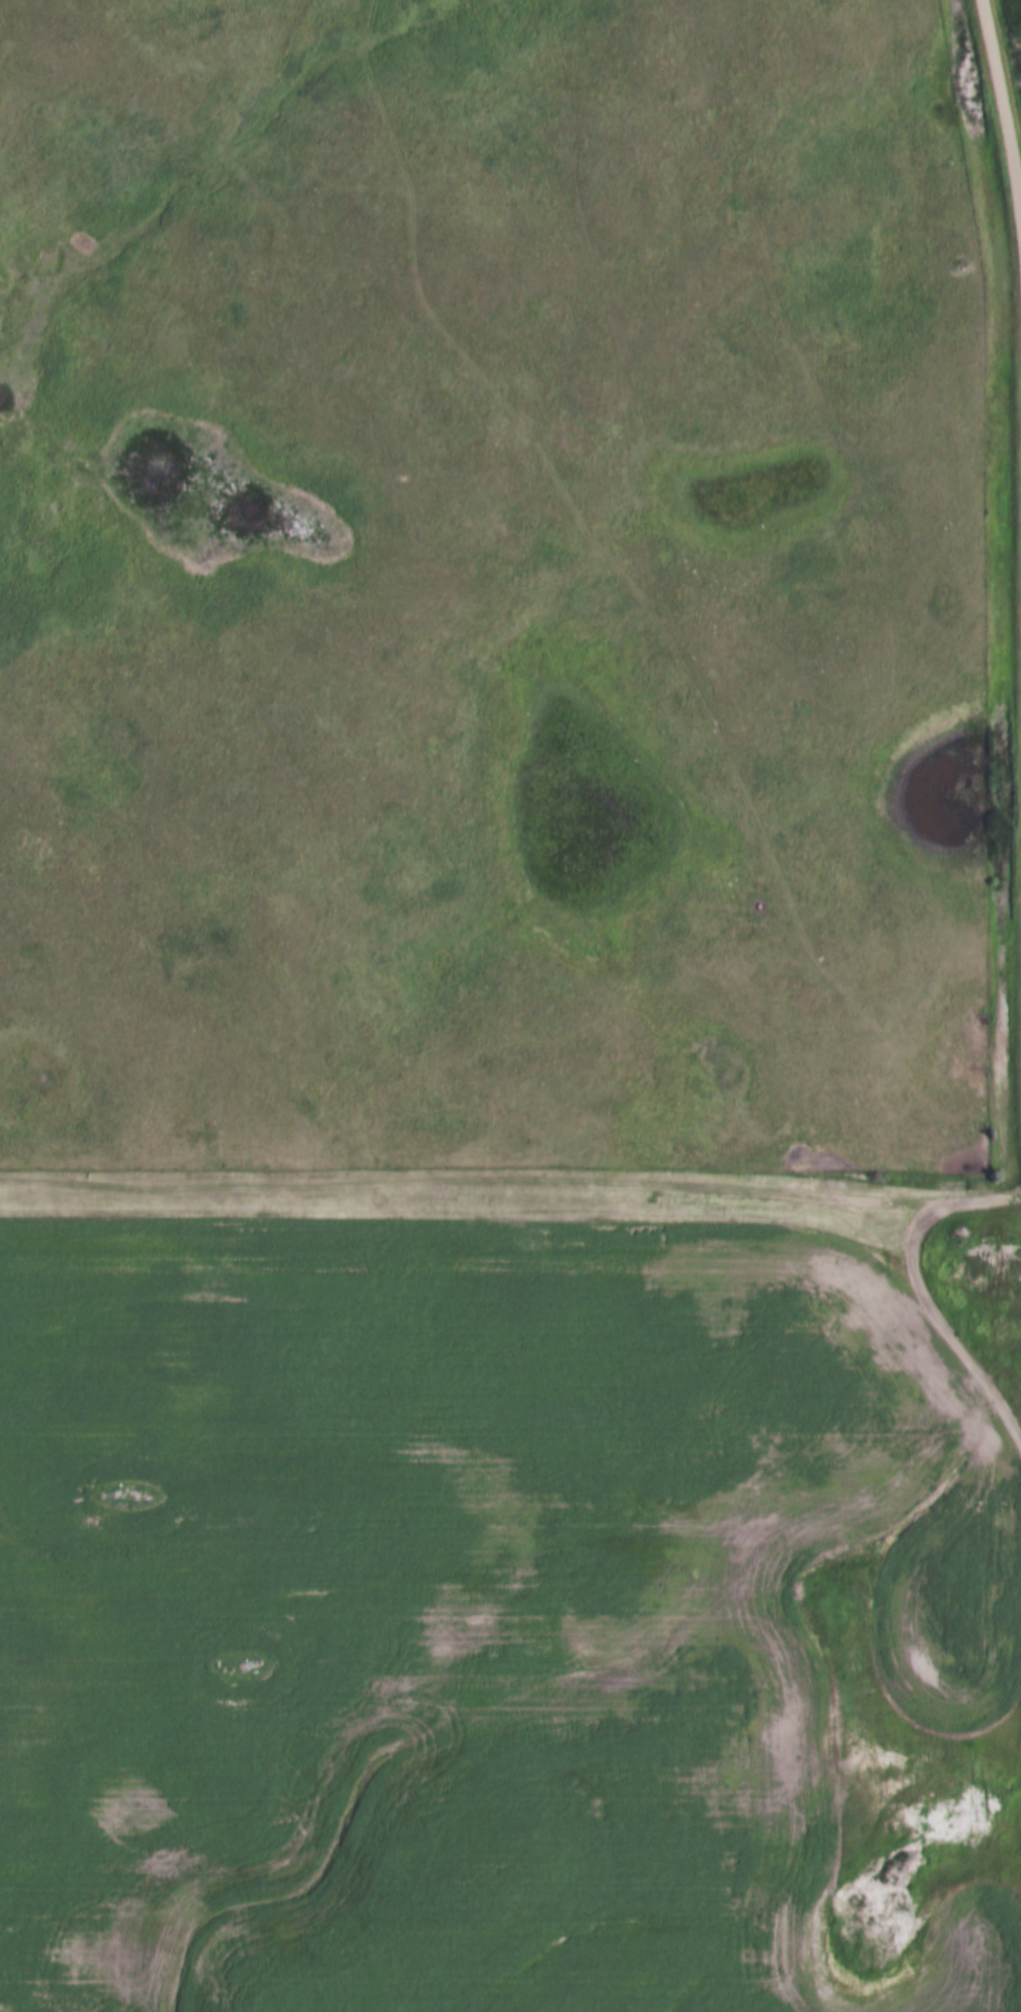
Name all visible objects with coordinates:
road: (1006, 108)
road: (927, 1286)

